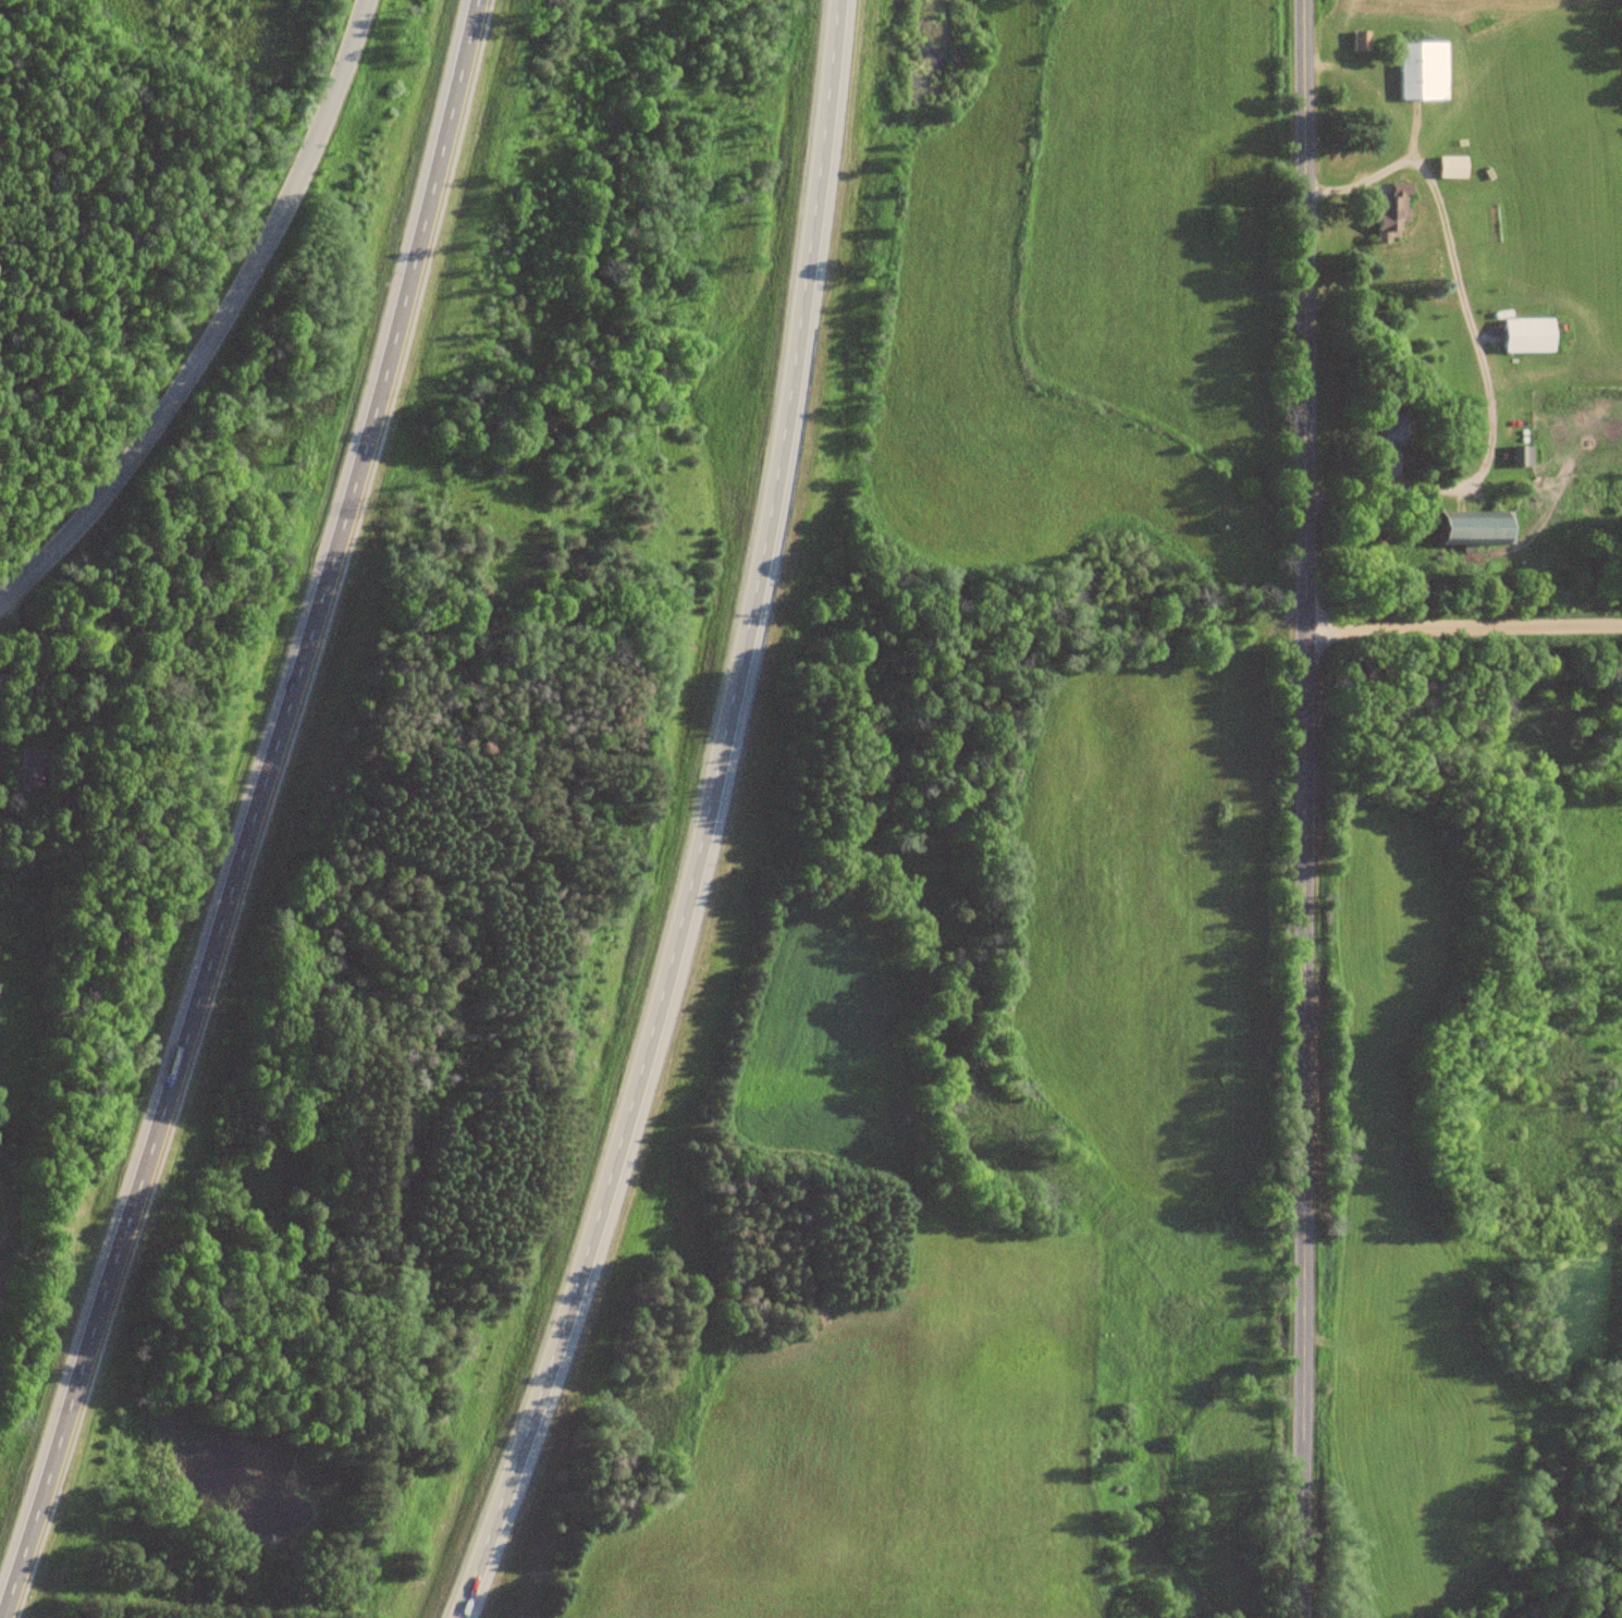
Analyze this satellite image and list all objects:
building: (1363, 40)
building: (1425, 71)
building: (1454, 167)
building: (1394, 213)
road: (221, 323)
building: (1531, 335)
building: (1393, 427)
building: (1524, 455)
building: (1478, 528)
road: (1464, 625)
building: (44, 770)
road: (1306, 808)
road: (251, 810)
road: (704, 823)

